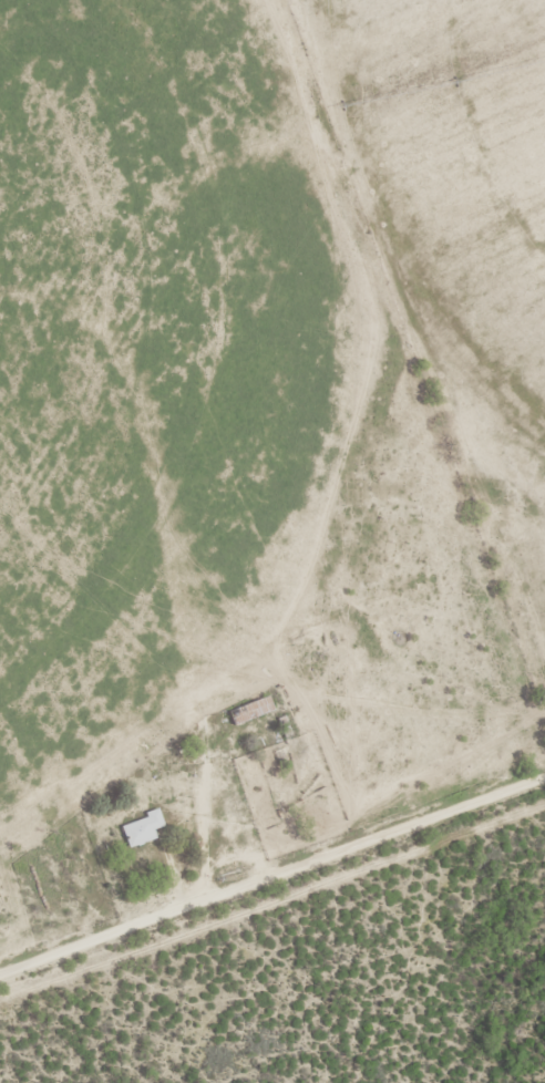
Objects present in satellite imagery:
building: (247, 711)
building: (140, 828)
road: (271, 874)

